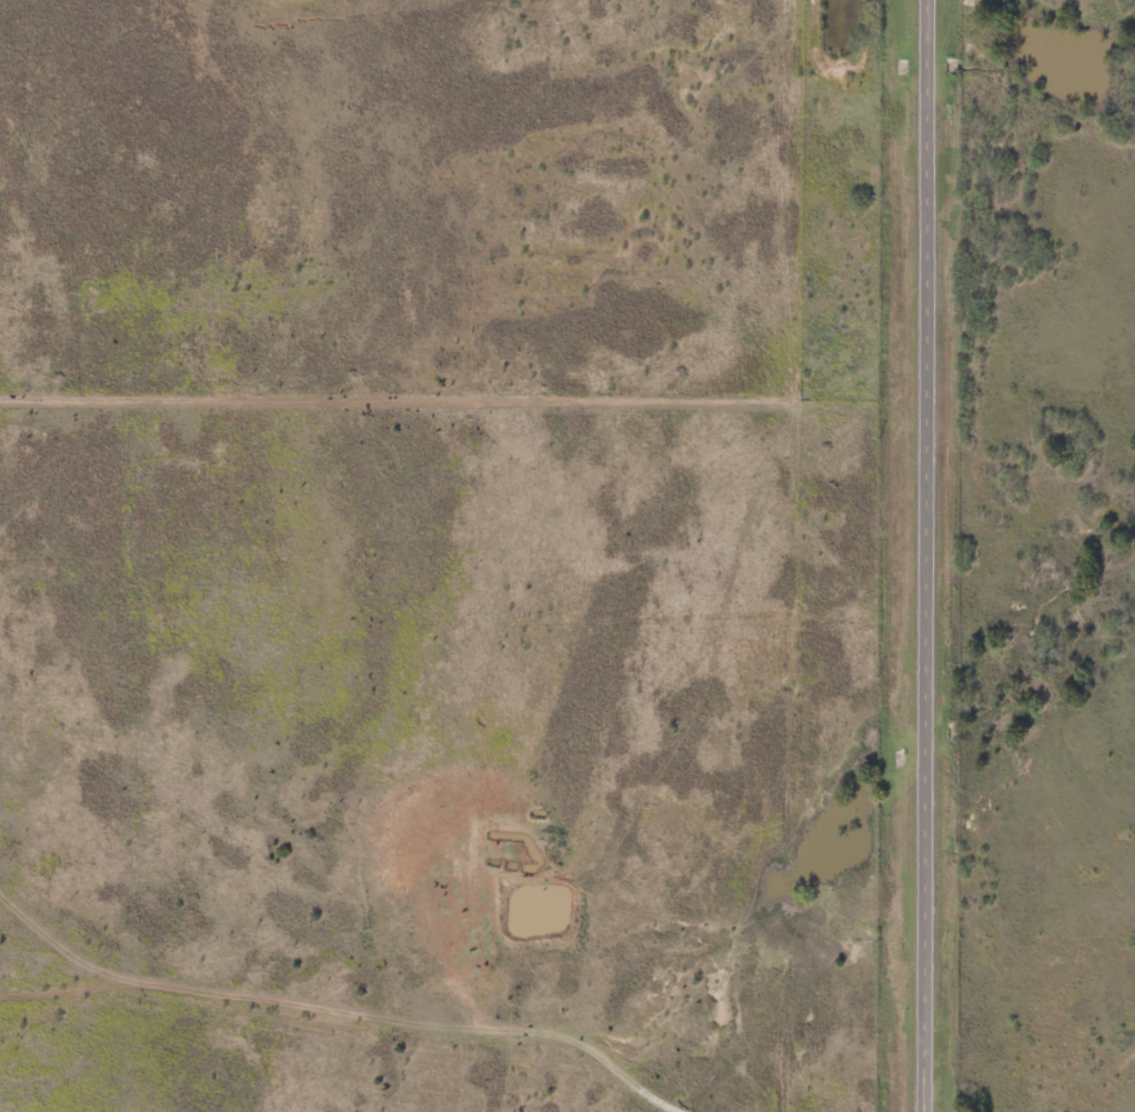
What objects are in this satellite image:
road: (924, 555)

